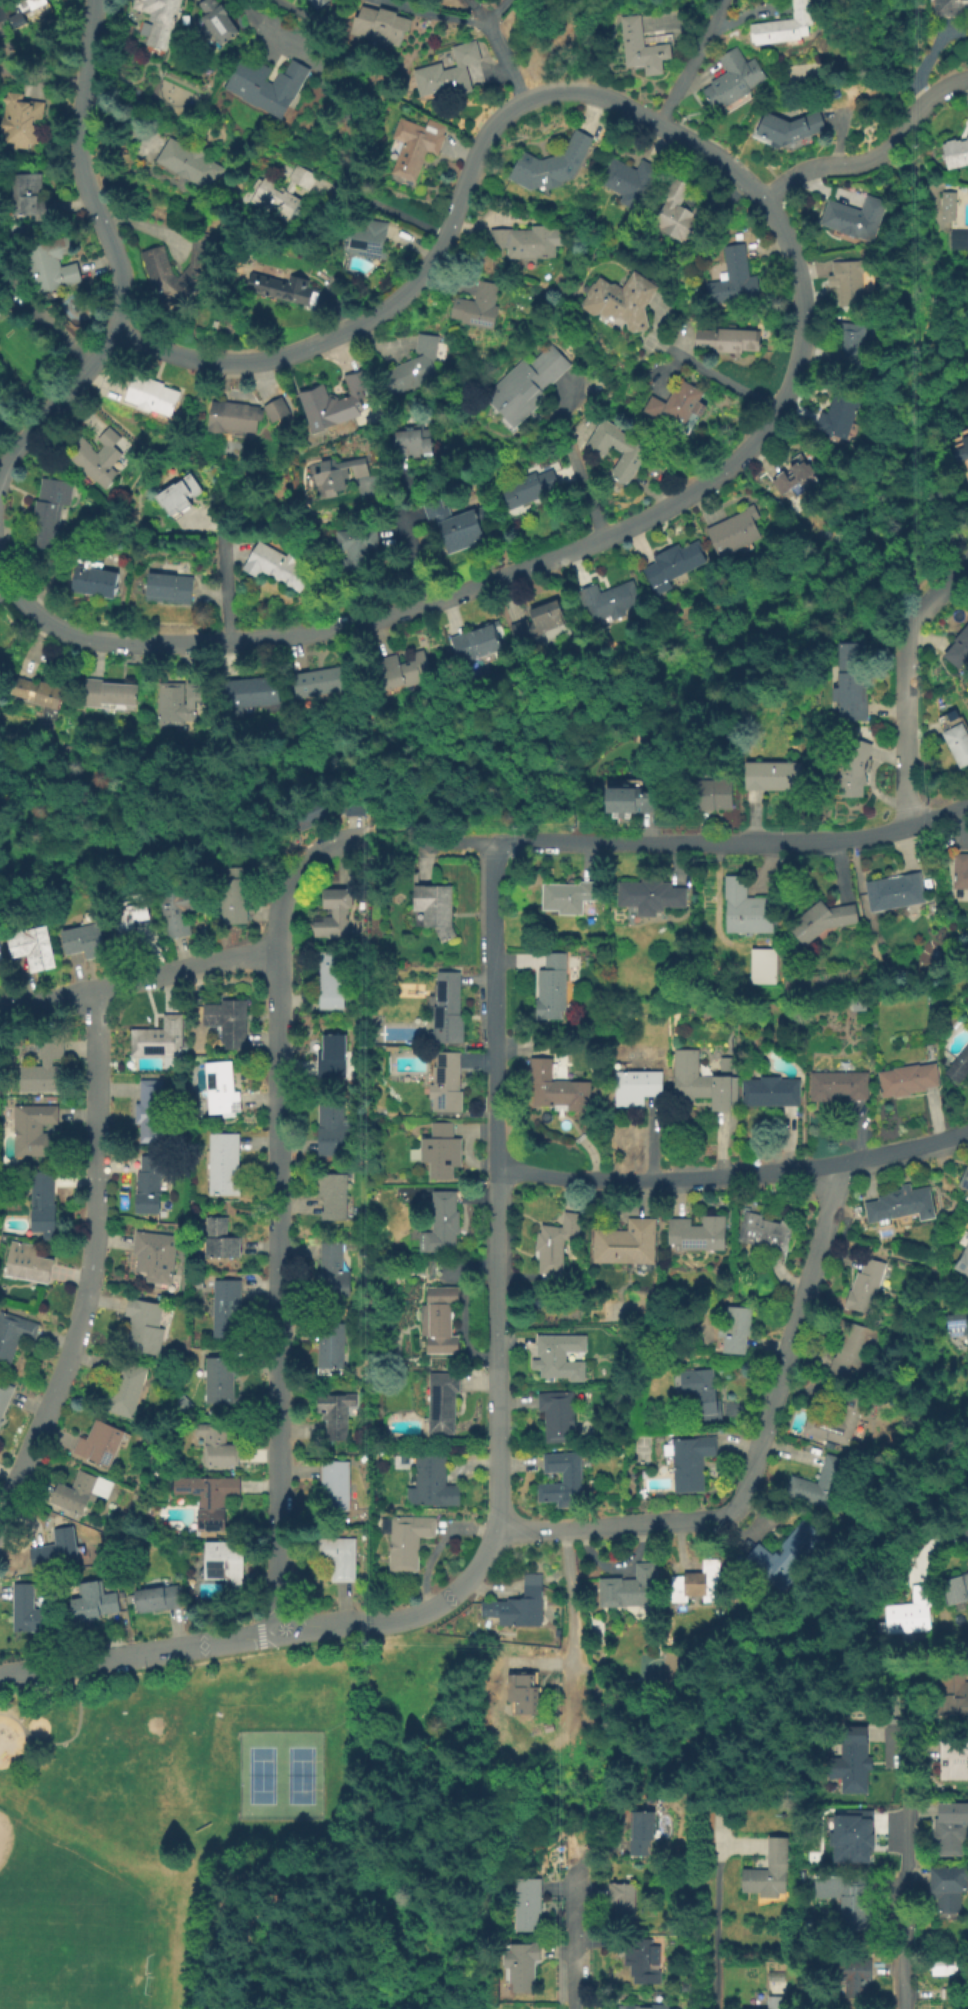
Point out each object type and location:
building: (320, 3)
building: (948, 7)
building: (18, 9)
road: (433, 11)
building: (161, 20)
building: (215, 22)
building: (783, 27)
building: (380, 28)
road: (269, 34)
building: (641, 48)
road: (501, 58)
road: (692, 63)
building: (448, 75)
building: (734, 79)
building: (265, 86)
building: (967, 121)
building: (18, 122)
building: (788, 128)
building: (414, 147)
building: (957, 151)
road: (875, 155)
building: (189, 165)
building: (552, 165)
building: (627, 181)
road: (922, 181)
building: (282, 192)
building: (27, 198)
building: (946, 204)
building: (677, 209)
road: (382, 210)
road: (958, 216)
building: (854, 218)
building: (958, 239)
building: (365, 240)
building: (525, 243)
road: (116, 257)
building: (49, 270)
road: (428, 271)
building: (159, 276)
building: (733, 279)
building: (847, 282)
building: (284, 290)
building: (619, 301)
building: (476, 307)
road: (41, 322)
building: (726, 340)
building: (847, 346)
building: (413, 367)
road: (727, 379)
building: (528, 388)
building: (149, 396)
building: (676, 403)
building: (329, 404)
building: (277, 408)
building: (838, 413)
building: (232, 418)
road: (15, 420)
road: (934, 420)
building: (412, 443)
building: (960, 450)
building: (618, 451)
building: (94, 459)
building: (335, 474)
road: (579, 475)
building: (788, 479)
building: (529, 489)
building: (181, 491)
building: (49, 511)
building: (455, 524)
building: (734, 533)
road: (411, 539)
road: (577, 548)
building: (356, 551)
building: (674, 565)
building: (275, 567)
road: (4, 576)
building: (92, 580)
road: (223, 584)
building: (167, 588)
building: (606, 601)
building: (537, 623)
building: (473, 644)
building: (958, 650)
building: (401, 672)
road: (905, 680)
building: (316, 683)
building: (846, 685)
road: (360, 686)
building: (34, 694)
building: (106, 695)
building: (244, 697)
building: (177, 703)
building: (954, 738)
road: (366, 757)
building: (850, 771)
building: (773, 775)
building: (712, 796)
road: (367, 798)
building: (626, 803)
building: (327, 807)
road: (389, 834)
road: (741, 840)
road: (499, 844)
road: (452, 845)
road: (486, 848)
building: (961, 872)
road: (288, 876)
building: (896, 892)
building: (652, 895)
building: (232, 896)
building: (567, 898)
building: (746, 909)
building: (178, 911)
building: (432, 911)
building: (335, 912)
building: (126, 918)
building: (821, 922)
building: (79, 945)
building: (27, 950)
building: (763, 967)
building: (0, 968)
building: (0, 971)
road: (138, 979)
building: (330, 982)
building: (549, 990)
building: (443, 1010)
building: (230, 1021)
building: (157, 1037)
building: (330, 1058)
building: (725, 1062)
building: (46, 1066)
building: (959, 1066)
building: (907, 1081)
building: (702, 1084)
building: (445, 1085)
building: (838, 1085)
building: (636, 1088)
building: (555, 1089)
building: (219, 1090)
building: (770, 1093)
building: (150, 1112)
building: (34, 1129)
building: (331, 1129)
building: (438, 1152)
building: (223, 1165)
road: (733, 1175)
building: (965, 1181)
building: (146, 1188)
road: (494, 1188)
building: (331, 1198)
building: (41, 1203)
building: (897, 1206)
building: (441, 1225)
building: (764, 1234)
building: (696, 1236)
building: (218, 1241)
building: (627, 1246)
building: (554, 1248)
building: (154, 1257)
road: (92, 1263)
building: (963, 1263)
building: (26, 1265)
building: (330, 1271)
building: (430, 1271)
building: (867, 1287)
road: (278, 1292)
building: (225, 1308)
building: (438, 1321)
building: (143, 1327)
building: (957, 1327)
building: (14, 1335)
building: (735, 1335)
building: (329, 1348)
building: (852, 1351)
road: (786, 1353)
building: (552, 1357)
building: (220, 1382)
building: (123, 1389)
building: (702, 1394)
building: (4, 1397)
building: (444, 1406)
building: (334, 1416)
building: (557, 1417)
building: (848, 1422)
building: (99, 1445)
building: (218, 1448)
park: (639, 1448)
building: (690, 1463)
building: (563, 1481)
building: (434, 1483)
building: (819, 1486)
building: (335, 1488)
building: (74, 1495)
building: (208, 1501)
road: (602, 1527)
building: (407, 1542)
building: (55, 1551)
building: (783, 1557)
building: (338, 1559)
building: (222, 1565)
building: (698, 1584)
road: (459, 1588)
building: (629, 1590)
building: (955, 1593)
building: (155, 1601)
building: (91, 1605)
building: (520, 1608)
building: (26, 1611)
road: (568, 1616)
building: (909, 1617)
building: (595, 1631)
road: (197, 1646)
building: (523, 1696)
building: (951, 1699)
road: (65, 1740)
building: (851, 1761)
building: (953, 1762)
park: (282, 1775)
building: (949, 1830)
building: (846, 1831)
park: (254, 1834)
building: (639, 1835)
road: (378, 1836)
road: (906, 1866)
building: (770, 1874)
park: (36, 1875)
building: (945, 1889)
building: (849, 1898)
building: (622, 1901)
building: (525, 1908)
road: (714, 1916)
road: (574, 1936)
park: (65, 1949)
building: (642, 1963)
building: (943, 1968)
building: (519, 1970)
building: (851, 1976)
building: (951, 1996)
building: (773, 2004)
building: (628, 2008)
building: (658, 2008)

